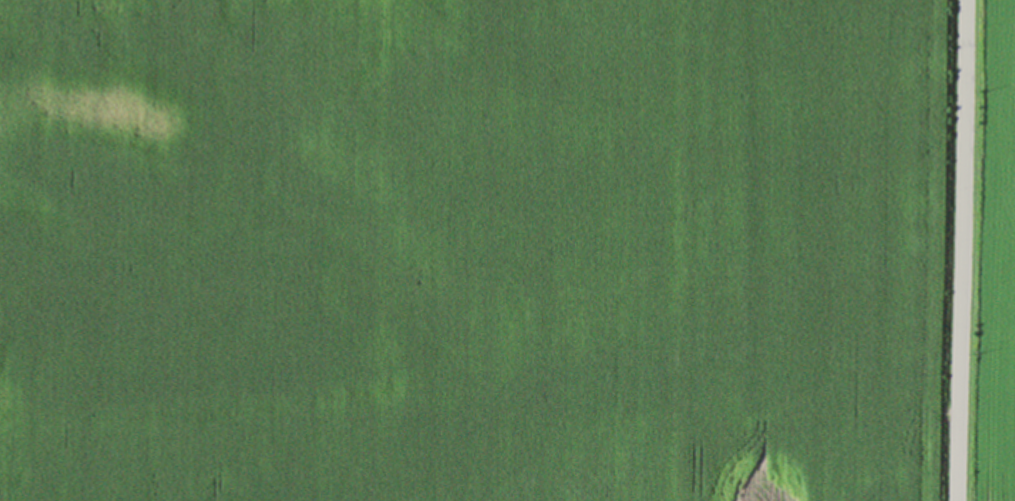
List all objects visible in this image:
road: (961, 250)

